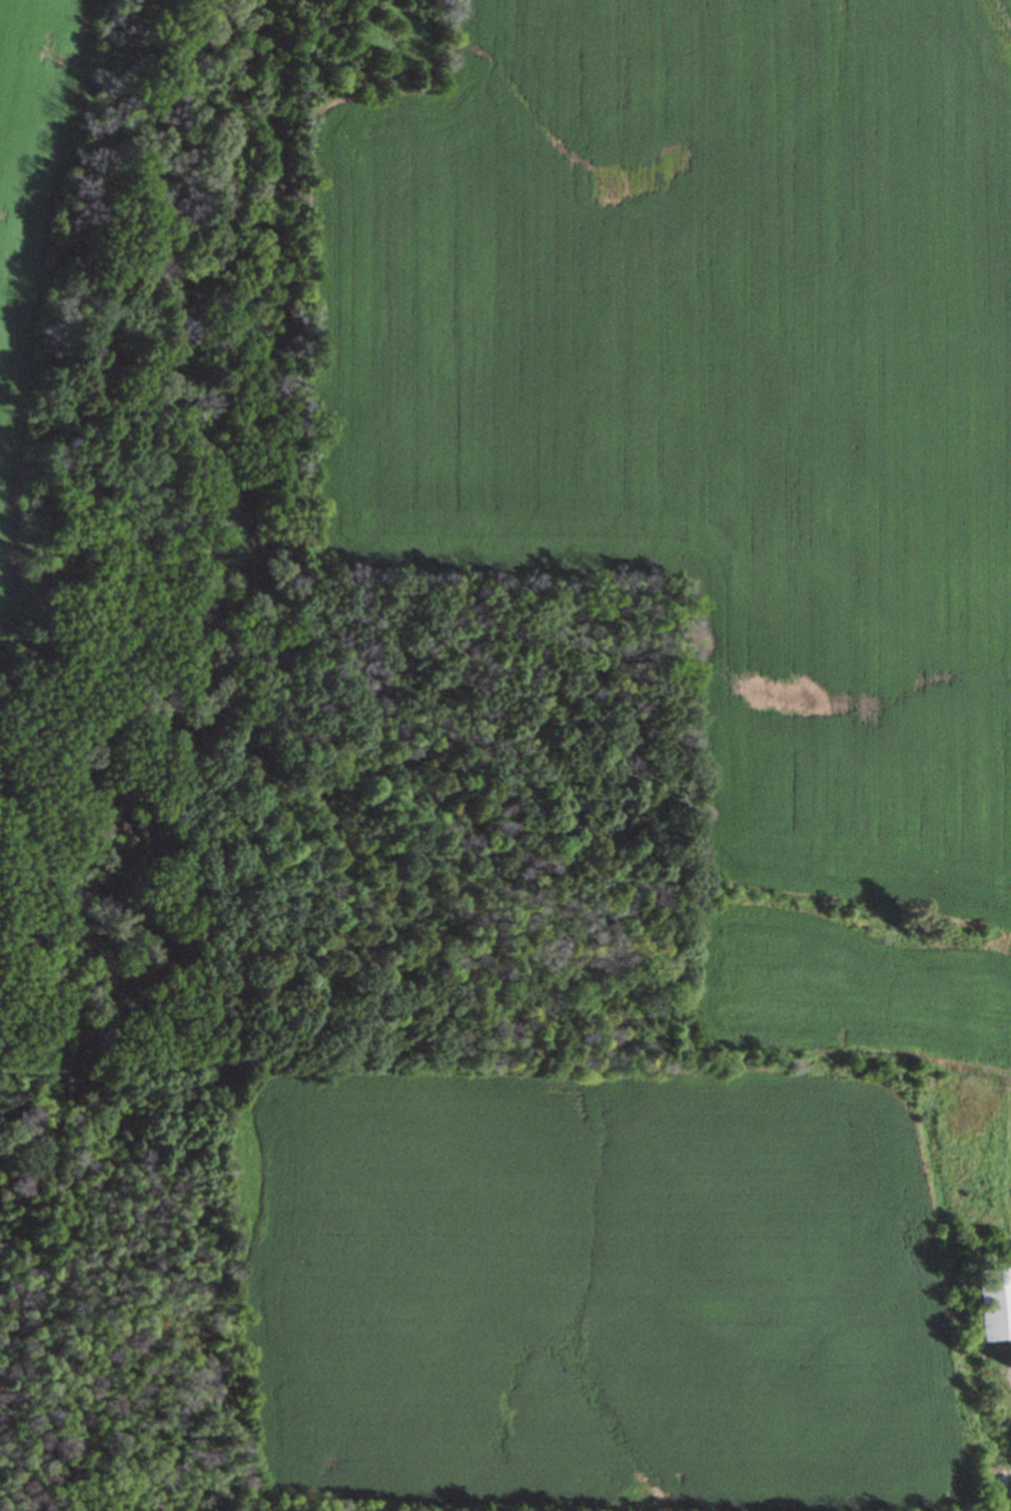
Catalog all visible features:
building: (994, 1305)

